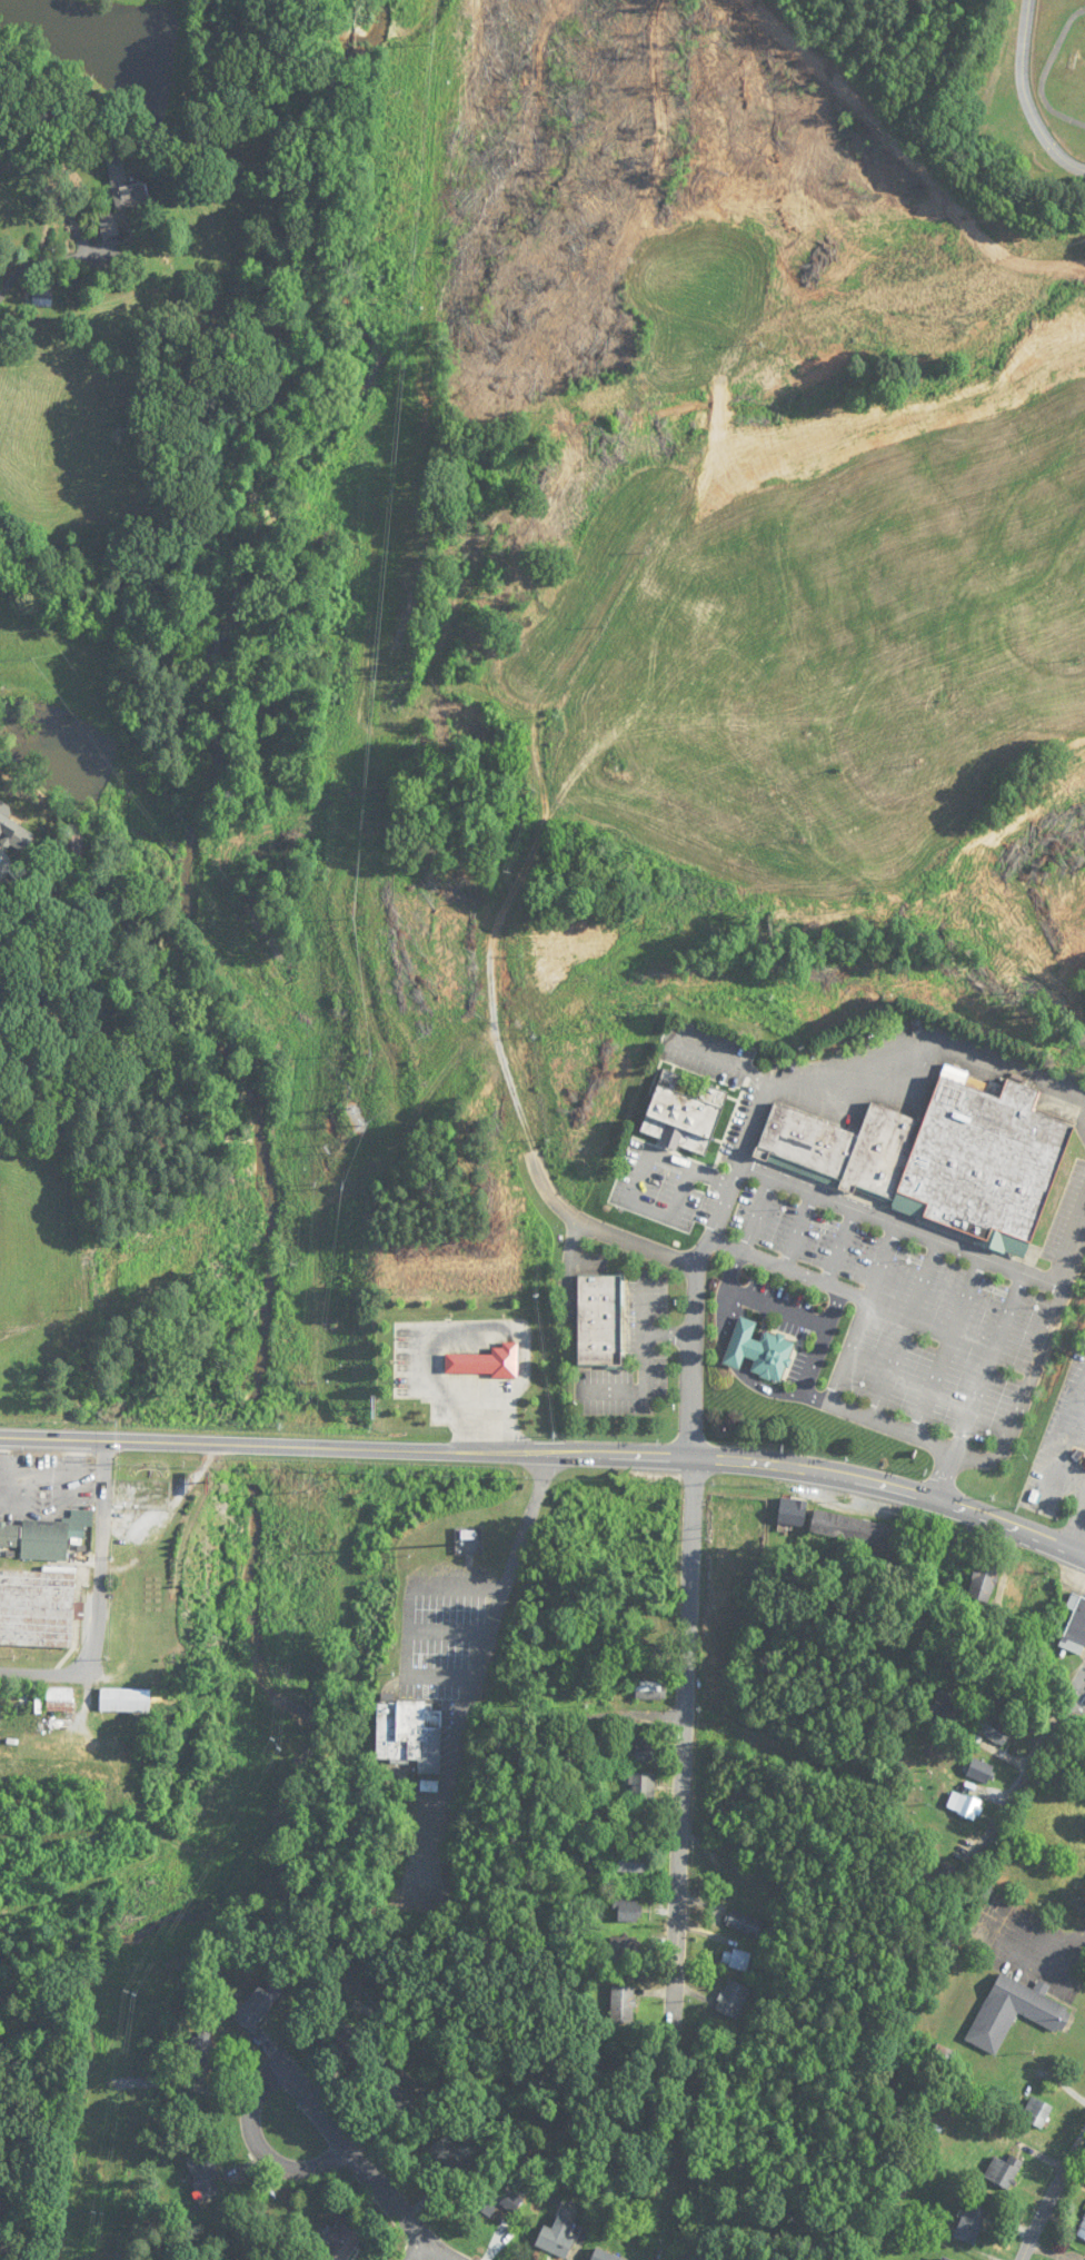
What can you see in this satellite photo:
road: (1027, 97)
building: (121, 196)
road: (40, 261)
building: (42, 293)
crop: (810, 655)
road: (876, 1065)
building: (683, 1112)
building: (991, 1154)
road: (734, 1172)
road: (638, 1178)
road: (898, 1226)
road: (799, 1231)
road: (840, 1247)
road: (1073, 1252)
road: (739, 1253)
road: (685, 1259)
road: (788, 1268)
road: (646, 1305)
road: (779, 1306)
road: (863, 1312)
building: (599, 1320)
road: (905, 1329)
road: (824, 1341)
road: (947, 1346)
building: (759, 1351)
building: (484, 1362)
road: (645, 1369)
road: (977, 1386)
road: (934, 1443)
road: (550, 1449)
road: (1065, 1449)
road: (1071, 1478)
power tower: (300, 1481)
building: (792, 1513)
building: (80, 1521)
road: (1075, 1526)
building: (853, 1529)
building: (37, 1539)
building: (985, 1578)
road: (687, 1587)
building: (1019, 1590)
road: (97, 1592)
building: (37, 1608)
building: (1075, 1627)
road: (569, 1633)
building: (896, 1652)
building: (655, 1657)
building: (557, 1671)
road: (12, 1676)
building: (600, 1688)
building: (651, 1691)
building: (59, 1701)
building: (123, 1701)
road: (1077, 1701)
building: (943, 1707)
road: (609, 1714)
building: (989, 1726)
building: (409, 1734)
building: (645, 1751)
road: (1035, 1761)
building: (979, 1771)
building: (643, 1786)
building: (968, 1806)
building: (640, 1823)
building: (628, 1862)
road: (1035, 1880)
building: (628, 1911)
building: (744, 1923)
building: (625, 1946)
road: (675, 1953)
building: (737, 1960)
power tower: (131, 1991)
building: (733, 2000)
building: (623, 2005)
building: (258, 2006)
building: (1014, 2012)
building: (200, 2054)
building: (944, 2055)
road: (862, 2058)
building: (394, 2091)
building: (1037, 2112)
road: (261, 2147)
building: (455, 2155)
road: (361, 2167)
building: (1004, 2171)
building: (205, 2174)
building: (498, 2199)
road: (1053, 2202)
power tower: (99, 2211)
building: (970, 2223)
building: (1081, 2230)
building: (557, 2238)
building: (339, 2243)
road: (417, 2251)
building: (604, 2256)
building: (944, 2259)

